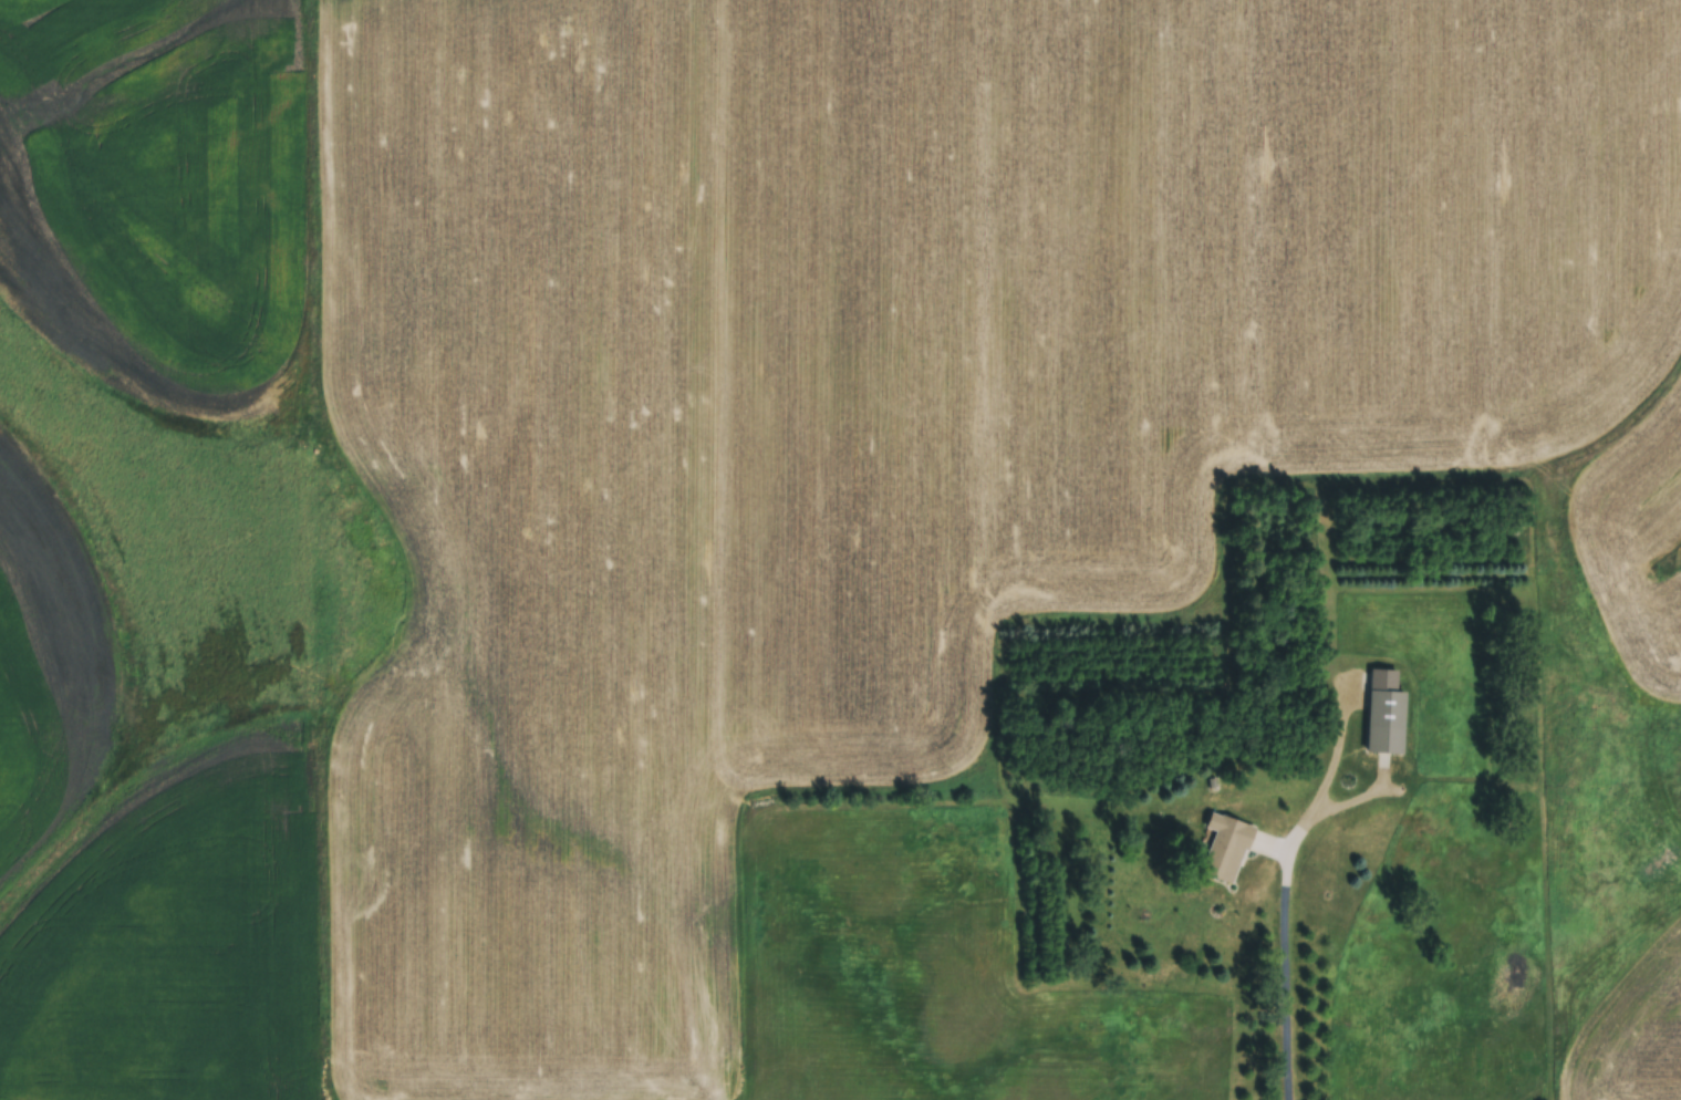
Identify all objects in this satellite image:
building: (1382, 722)
building: (1223, 848)
road: (1287, 971)

